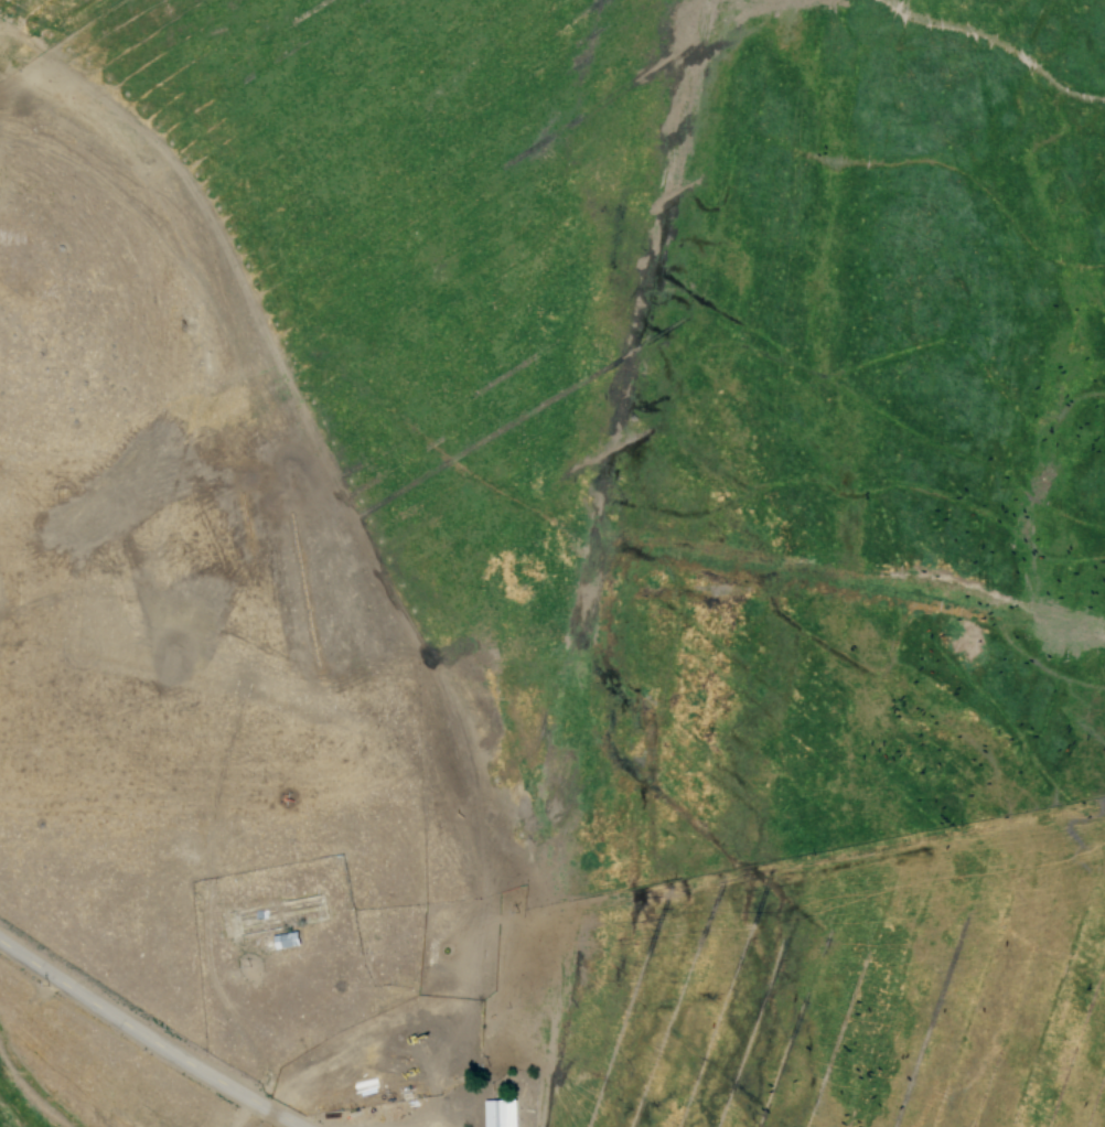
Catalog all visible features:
road: (142, 1041)
building: (501, 1113)

